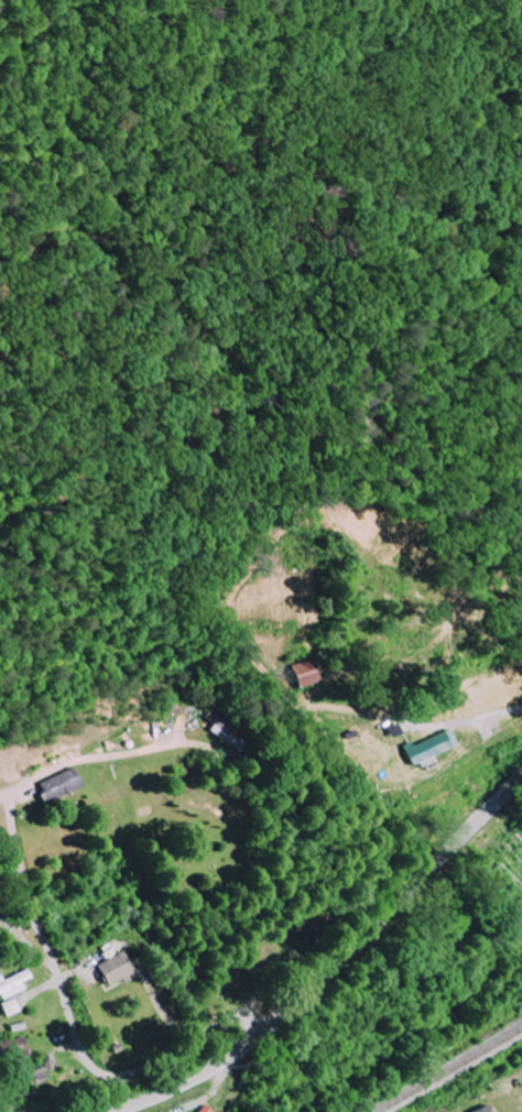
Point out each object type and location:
building: (304, 673)
building: (425, 749)
building: (58, 786)
road: (331, 968)
building: (115, 969)
building: (13, 984)
building: (8, 1007)
road: (75, 1028)
building: (13, 1046)
railway: (447, 1068)
building: (30, 1073)
building: (200, 1109)
building: (482, 1109)

